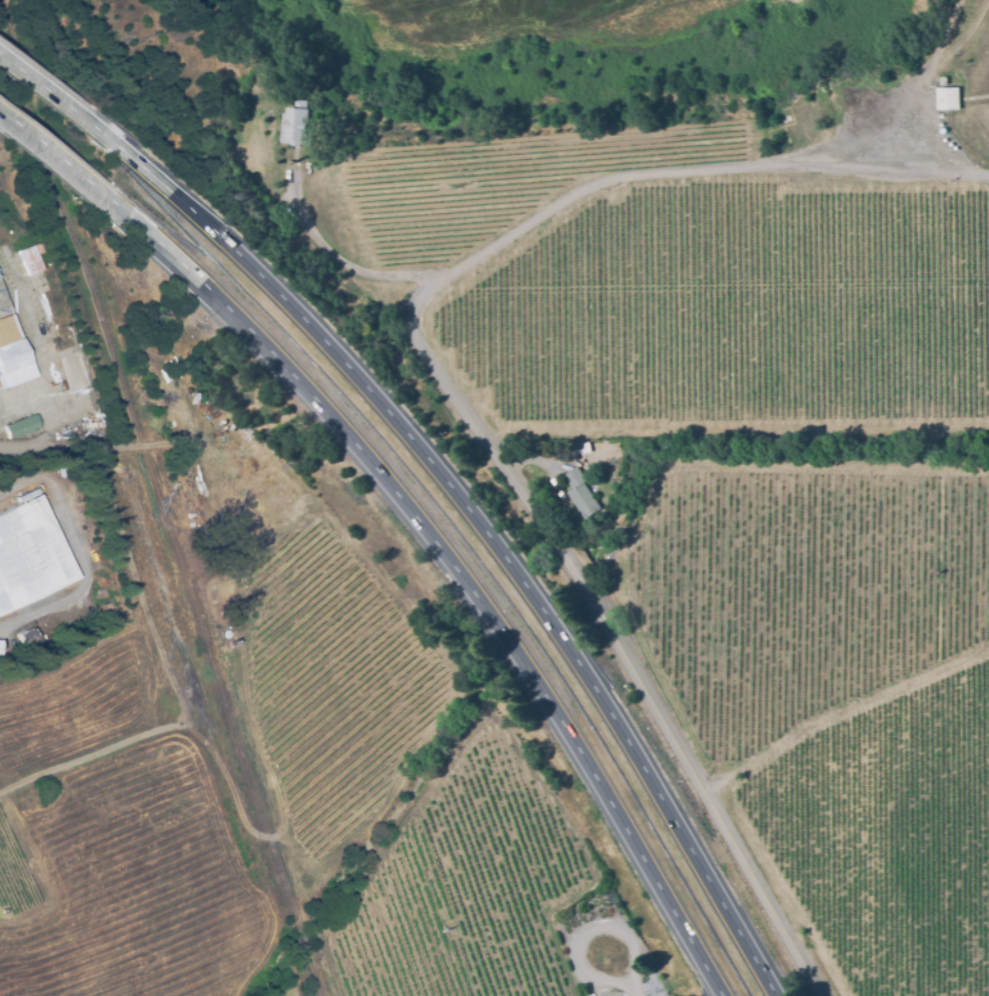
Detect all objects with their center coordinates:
building: (944, 81)
road: (62, 97)
building: (948, 99)
building: (780, 112)
building: (296, 125)
road: (67, 160)
road: (663, 175)
building: (38, 249)
road: (336, 259)
building: (30, 261)
building: (11, 348)
building: (74, 369)
building: (21, 427)
building: (586, 446)
road: (84, 449)
building: (581, 495)
railway: (160, 504)
road: (491, 538)
road: (78, 550)
building: (29, 556)
road: (463, 577)
building: (233, 608)
building: (26, 638)
road: (627, 663)
road: (76, 761)
road: (621, 975)

